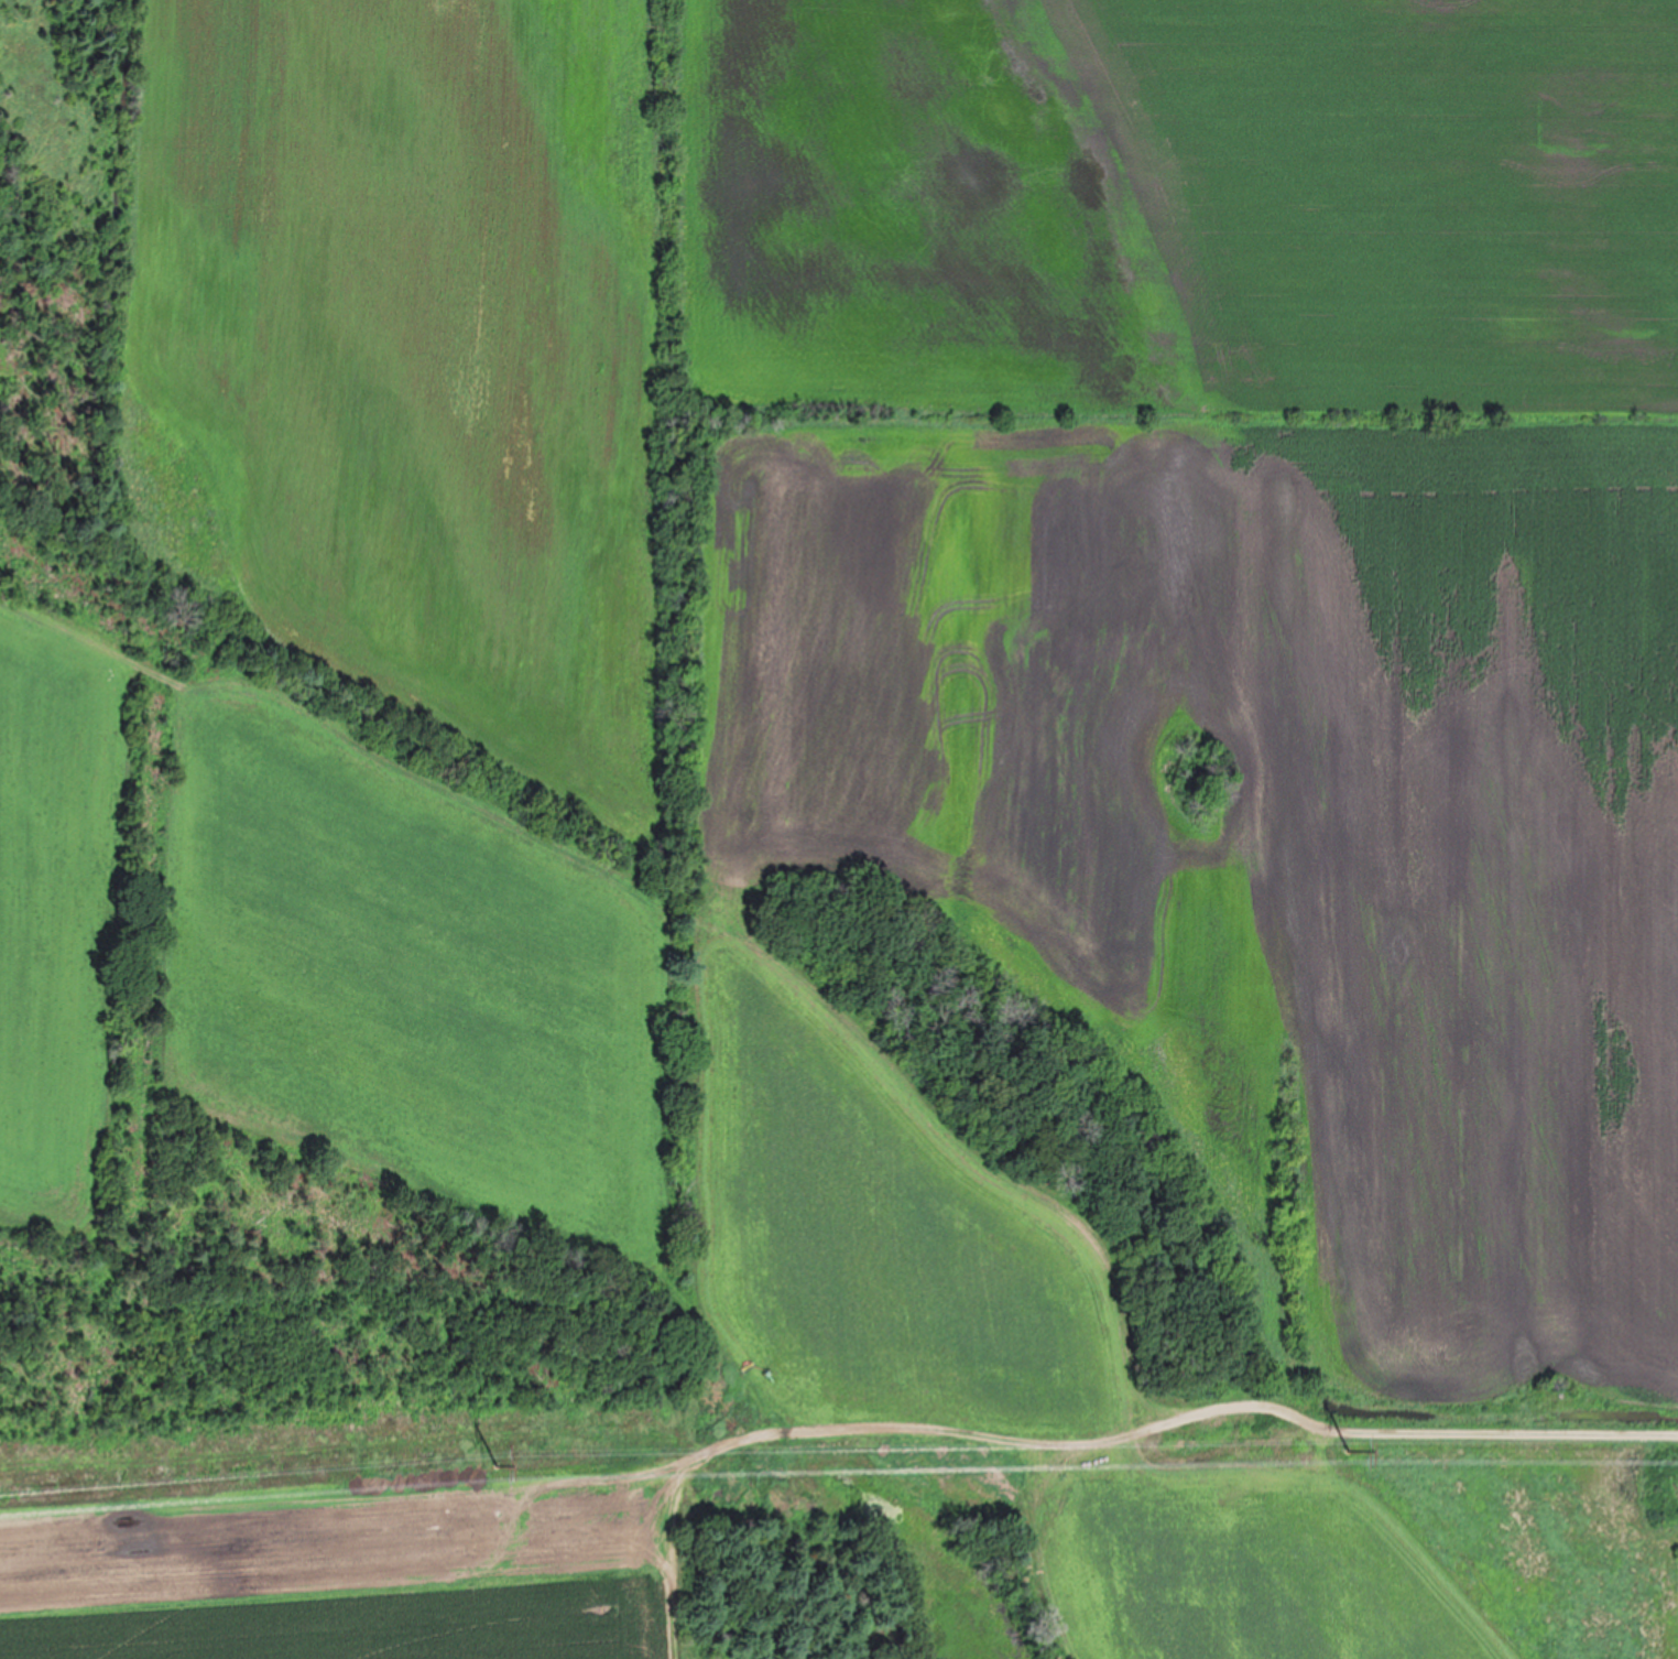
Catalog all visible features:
power tower: (1353, 1444)
power tower: (498, 1460)

